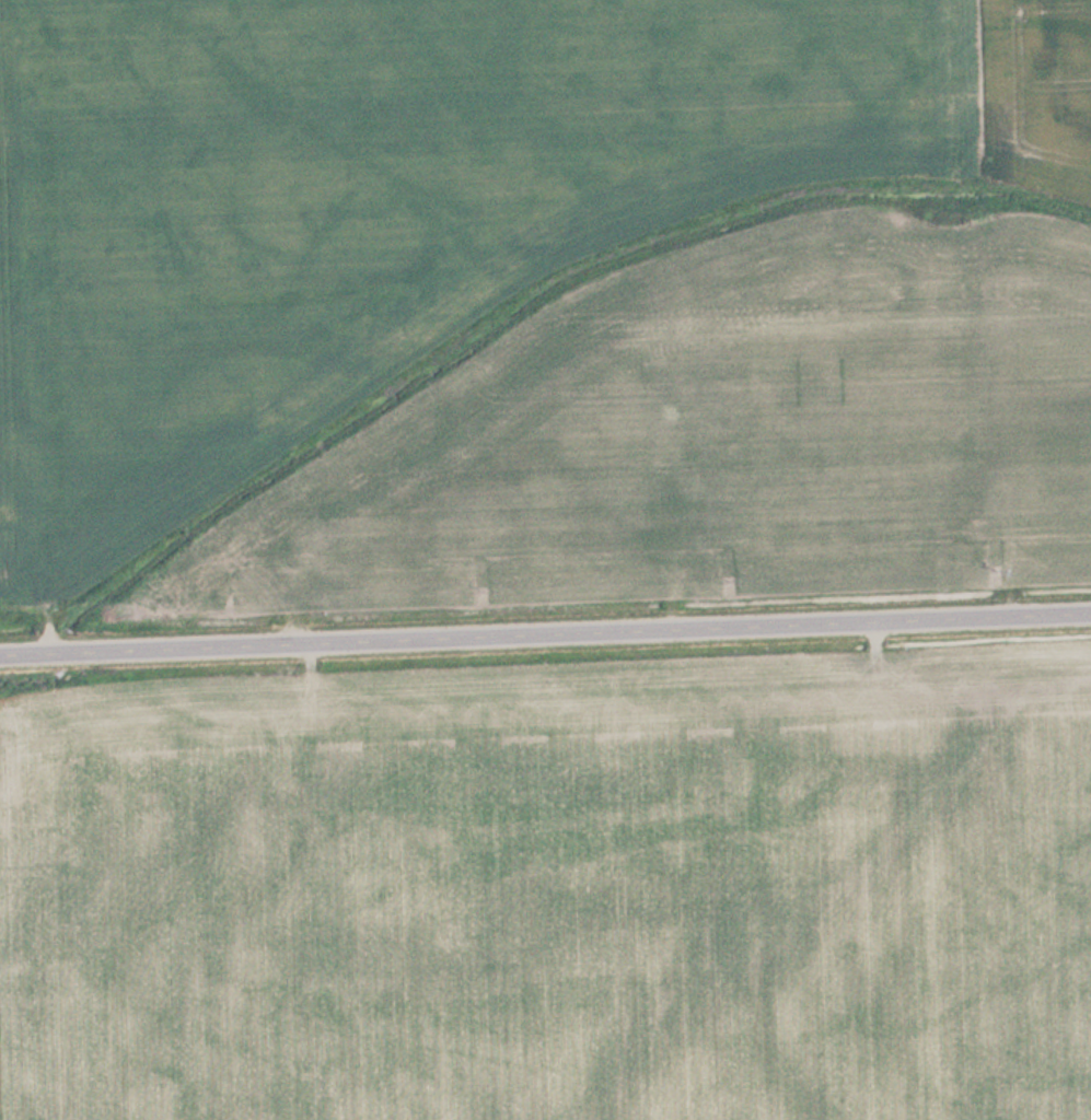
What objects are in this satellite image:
road: (545, 632)

